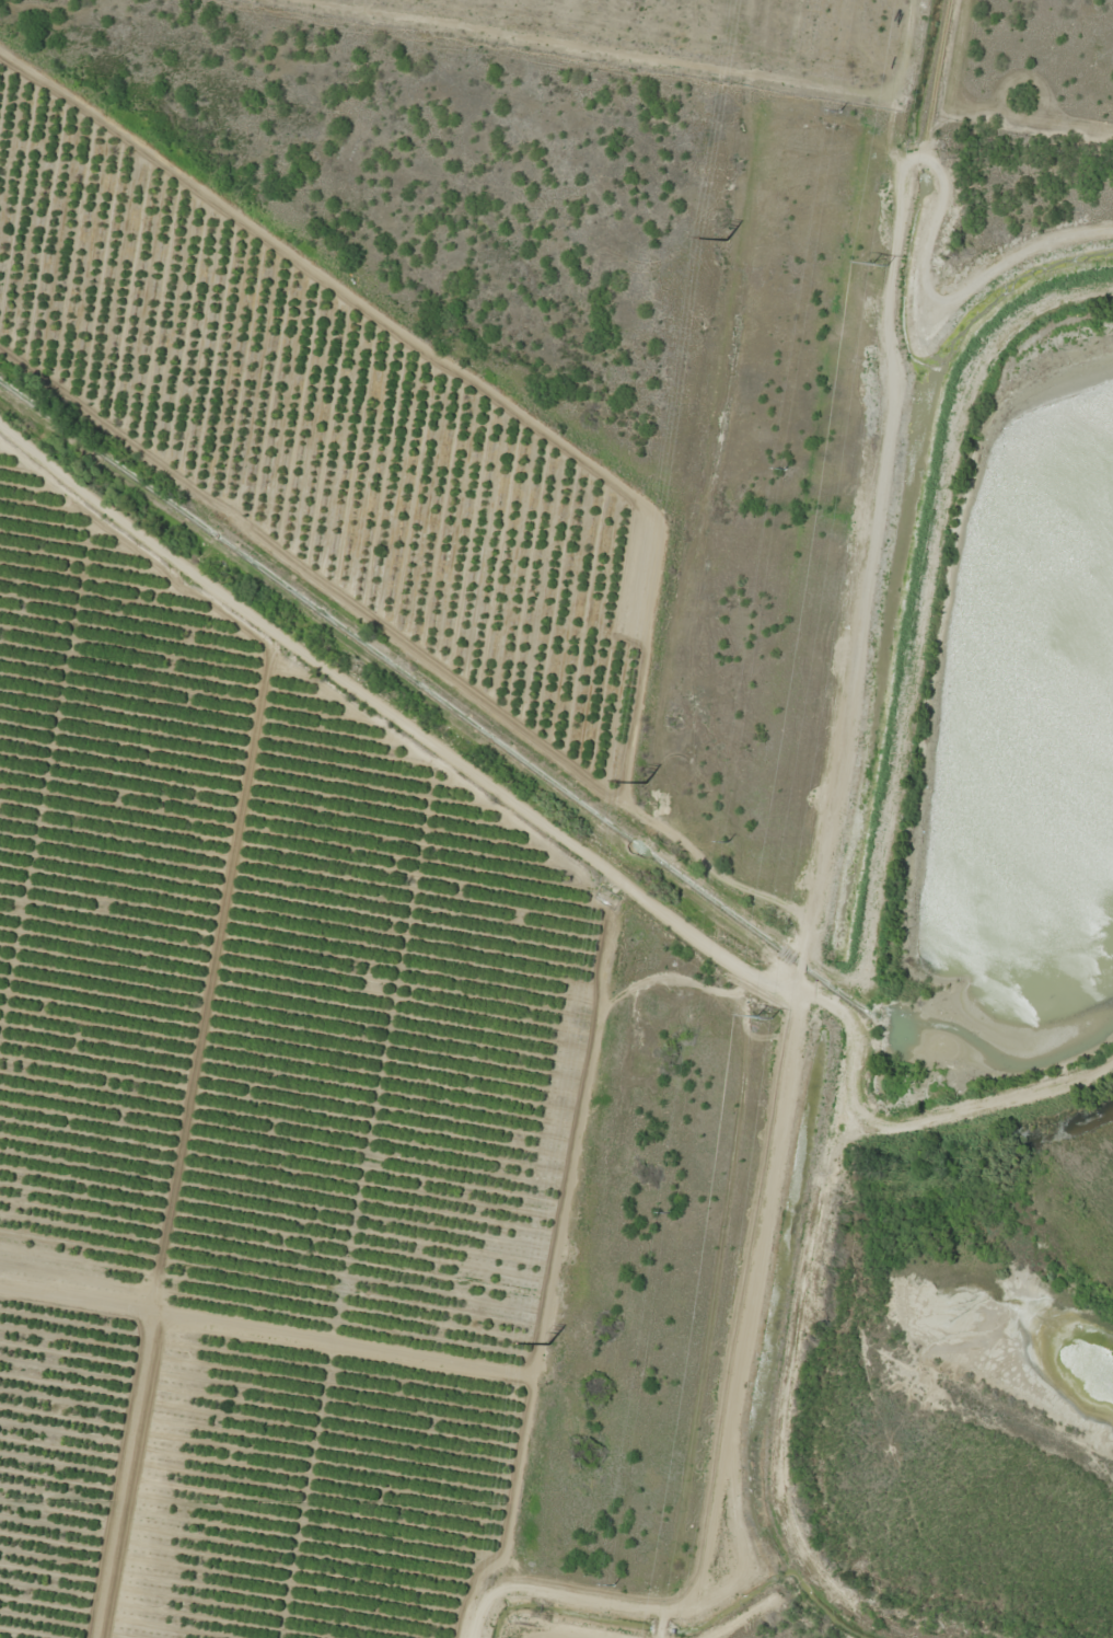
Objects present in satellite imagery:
road: (955, 232)
power tower: (726, 241)
power tower: (877, 263)
road: (393, 727)
power tower: (646, 783)
road: (816, 824)
power tower: (762, 1019)
power tower: (549, 1343)

